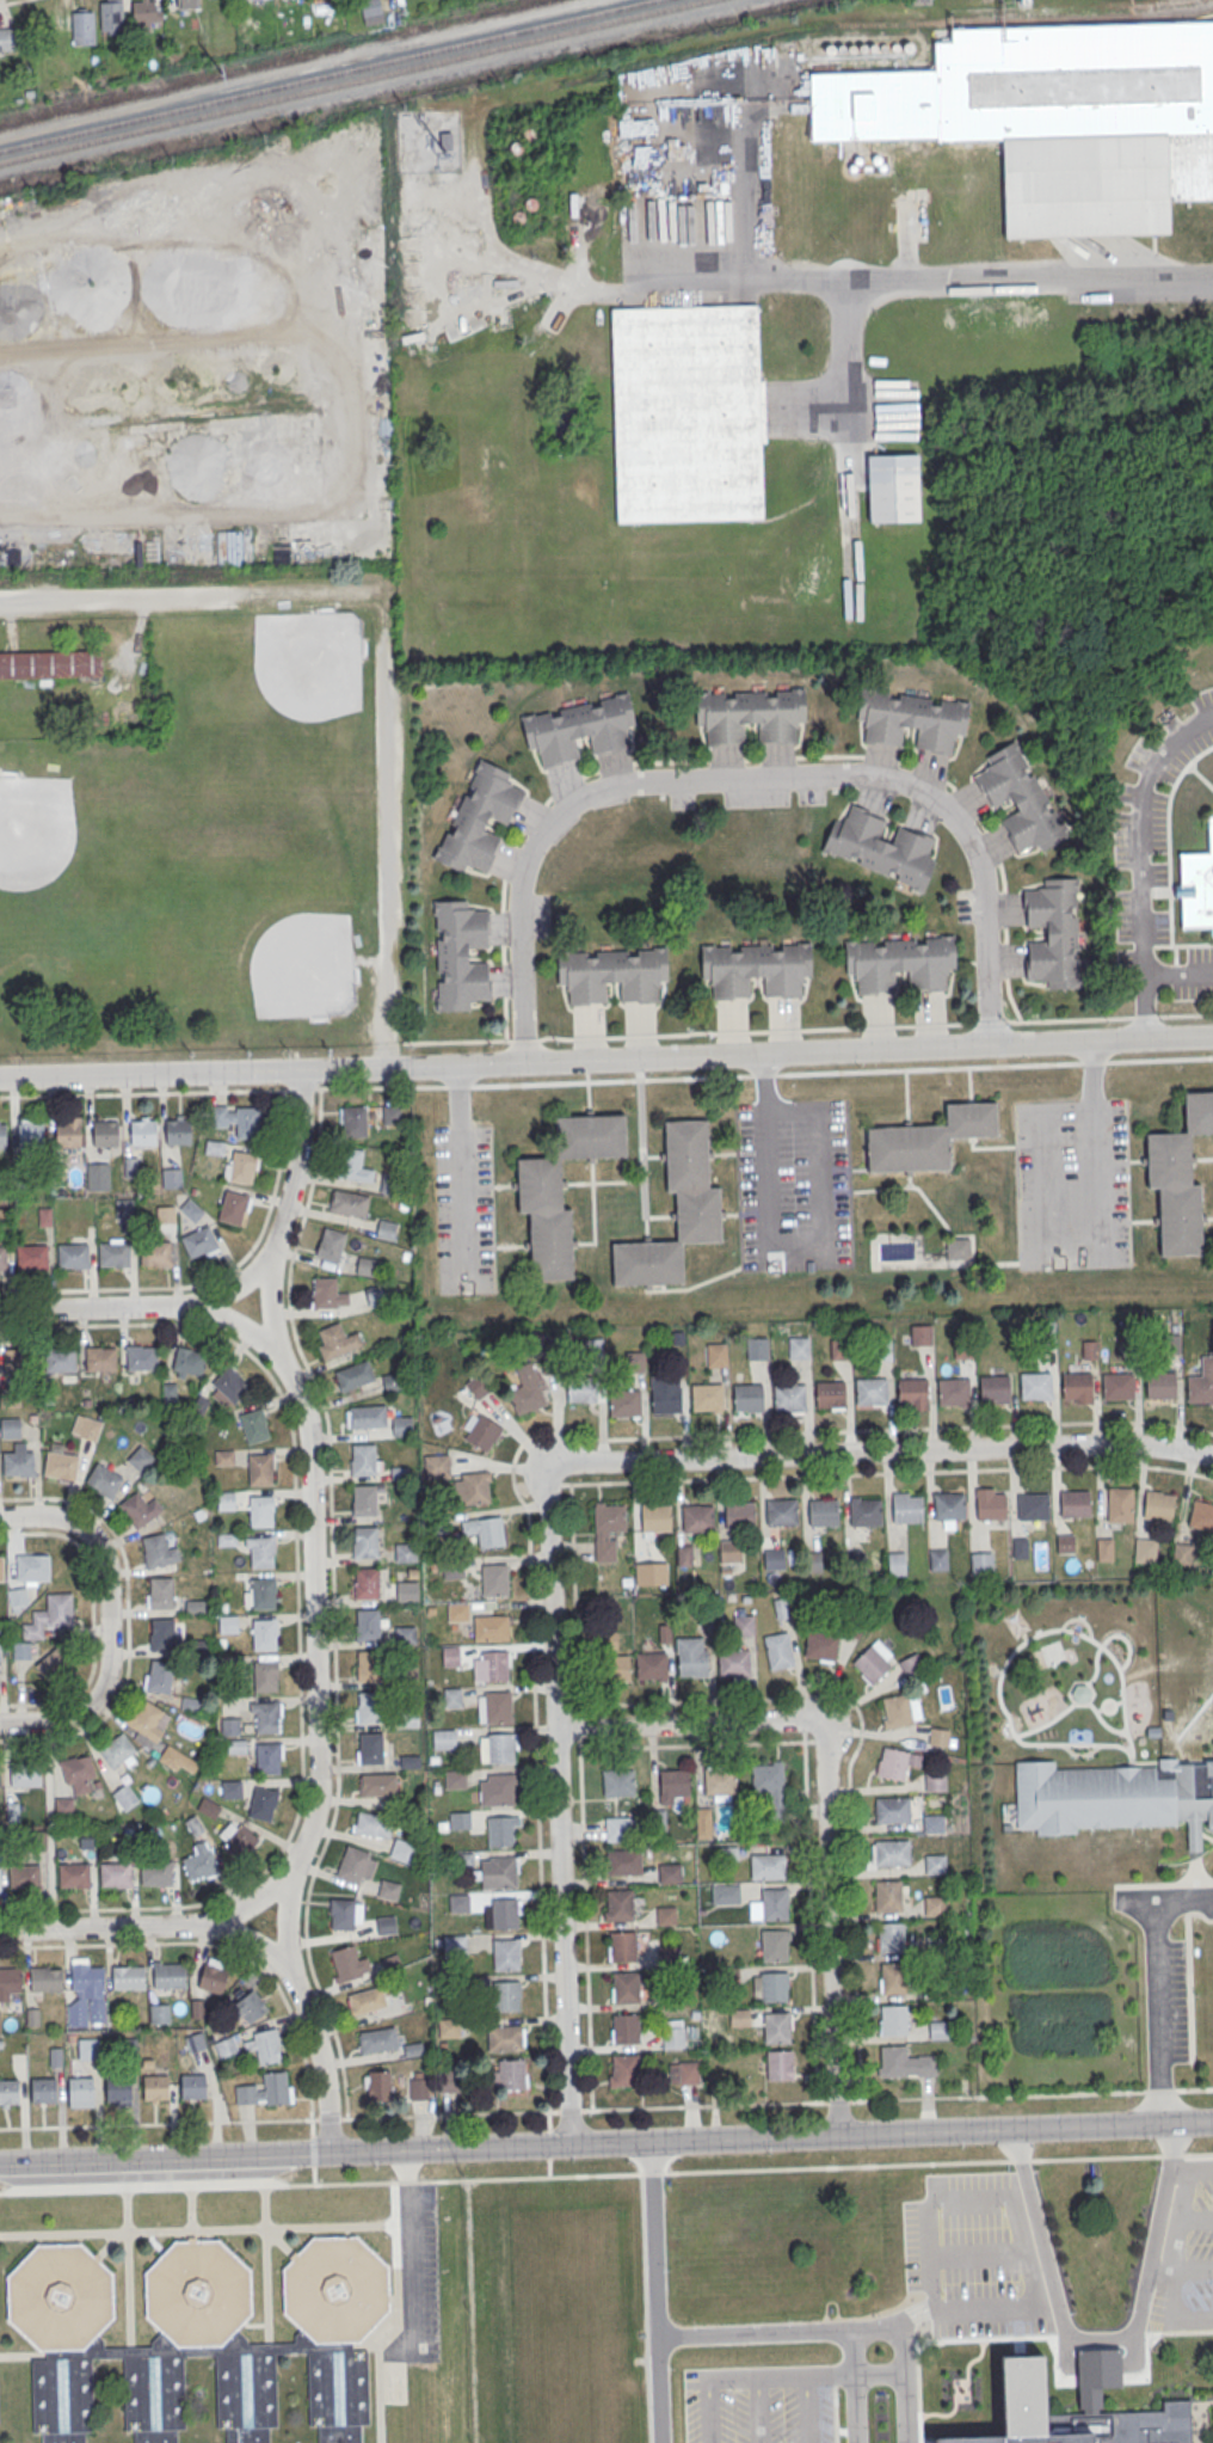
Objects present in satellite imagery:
road: (12, 2)
building: (185, 4)
building: (369, 12)
building: (111, 16)
building: (143, 16)
building: (82, 29)
building: (8, 39)
power tower: (221, 74)
railway: (326, 74)
railway: (357, 82)
building: (1054, 119)
road: (747, 204)
road: (894, 280)
road: (844, 357)
building: (685, 415)
building: (892, 490)
road: (187, 595)
building: (50, 664)
park: (275, 701)
building: (750, 714)
building: (911, 718)
building: (579, 729)
road: (749, 772)
building: (1020, 798)
building: (479, 817)
road: (389, 828)
building: (880, 847)
park: (201, 852)
road: (1141, 857)
park: (63, 861)
building: (1196, 886)
building: (1053, 932)
park: (266, 933)
building: (460, 955)
building: (899, 962)
building: (755, 968)
building: (611, 974)
road: (1178, 978)
road: (606, 1058)
building: (390, 1115)
building: (238, 1118)
building: (352, 1121)
building: (177, 1133)
building: (104, 1134)
building: (142, 1134)
building: (67, 1135)
building: (29, 1136)
building: (2, 1137)
building: (839, 1141)
building: (926, 1141)
building: (214, 1146)
road: (297, 1152)
road: (279, 1159)
road: (316, 1165)
building: (355, 1165)
building: (130, 1166)
building: (240, 1166)
road: (463, 1168)
building: (97, 1176)
building: (171, 1177)
building: (1178, 1178)
building: (388, 1183)
building: (537, 1186)
building: (351, 1202)
building: (233, 1207)
building: (124, 1208)
parking lot: (464, 1210)
building: (168, 1213)
building: (44, 1214)
building: (697, 1219)
building: (386, 1228)
building: (199, 1242)
building: (330, 1244)
building: (958, 1247)
building: (113, 1252)
building: (155, 1253)
building: (72, 1254)
road: (790, 1254)
building: (31, 1256)
building: (2, 1257)
road: (1088, 1257)
building: (365, 1265)
road: (245, 1281)
building: (327, 1293)
road: (271, 1299)
road: (121, 1308)
building: (919, 1334)
building: (335, 1340)
building: (1172, 1344)
building: (757, 1348)
building: (798, 1348)
building: (716, 1354)
building: (141, 1356)
building: (100, 1357)
building: (14, 1358)
building: (59, 1358)
building: (634, 1361)
building: (187, 1362)
building: (353, 1374)
building: (392, 1380)
building: (227, 1386)
building: (476, 1386)
building: (1034, 1387)
building: (1076, 1387)
building: (1116, 1387)
building: (1158, 1387)
building: (167, 1389)
building: (527, 1389)
building: (993, 1389)
building: (1199, 1391)
building: (581, 1392)
building: (870, 1393)
building: (911, 1393)
building: (953, 1393)
building: (829, 1395)
building: (706, 1398)
building: (746, 1399)
building: (788, 1399)
building: (665, 1401)
building: (623, 1404)
building: (365, 1416)
building: (79, 1424)
building: (254, 1425)
building: (401, 1425)
building: (10, 1426)
building: (482, 1432)
road: (527, 1438)
road: (878, 1449)
building: (223, 1456)
building: (140, 1457)
building: (363, 1462)
building: (435, 1462)
building: (18, 1465)
building: (60, 1465)
building: (259, 1471)
road: (891, 1473)
building: (103, 1479)
building: (473, 1487)
building: (224, 1499)
building: (364, 1503)
building: (1119, 1504)
building: (1073, 1505)
building: (1158, 1505)
building: (140, 1509)
building: (948, 1509)
building: (990, 1509)
building: (1033, 1509)
building: (906, 1511)
building: (260, 1512)
building: (781, 1514)
building: (823, 1514)
building: (864, 1515)
building: (1201, 1515)
building: (738, 1516)
building: (654, 1520)
building: (609, 1521)
building: (697, 1521)
building: (485, 1530)
building: (364, 1545)
building: (1104, 1548)
building: (158, 1549)
building: (1145, 1549)
building: (728, 1551)
building: (404, 1552)
building: (260, 1554)
building: (683, 1554)
building: (1182, 1554)
building: (937, 1559)
building: (981, 1561)
building: (774, 1563)
building: (897, 1563)
building: (1, 1566)
building: (32, 1569)
building: (494, 1579)
building: (365, 1585)
building: (161, 1591)
building: (261, 1595)
building: (18, 1596)
building: (195, 1606)
building: (781, 1607)
building: (457, 1610)
road: (314, 1612)
building: (50, 1615)
road: (297, 1616)
road: (128, 1619)
road: (92, 1620)
road: (107, 1620)
building: (227, 1623)
building: (744, 1625)
building: (368, 1627)
building: (491, 1627)
building: (162, 1633)
building: (405, 1633)
building: (264, 1637)
building: (820, 1645)
building: (21, 1650)
building: (778, 1650)
building: (691, 1656)
building: (873, 1661)
building: (51, 1662)
building: (733, 1662)
building: (0, 1663)
building: (494, 1664)
building: (651, 1665)
building: (911, 1665)
building: (368, 1668)
building: (618, 1668)
building: (158, 1676)
building: (265, 1678)
building: (451, 1696)
building: (494, 1706)
building: (369, 1708)
building: (900, 1710)
building: (148, 1719)
building: (265, 1719)
road: (689, 1720)
building: (229, 1725)
building: (938, 1736)
building: (443, 1738)
road: (821, 1741)
road: (695, 1743)
building: (235, 1745)
building: (497, 1747)
building: (117, 1750)
building: (370, 1750)
building: (267, 1760)
building: (410, 1761)
building: (895, 1762)
building: (78, 1772)
building: (25, 1775)
building: (454, 1779)
building: (617, 1781)
building: (935, 1781)
building: (719, 1782)
building: (769, 1782)
building: (376, 1784)
building: (673, 1785)
building: (230, 1788)
building: (497, 1788)
building: (124, 1797)
building: (1115, 1797)
building: (263, 1803)
road: (556, 1803)
building: (63, 1807)
building: (208, 1807)
building: (891, 1809)
building: (458, 1819)
building: (703, 1822)
building: (932, 1822)
building: (371, 1823)
building: (192, 1824)
building: (618, 1828)
building: (501, 1830)
building: (85, 1837)
building: (235, 1839)
building: (400, 1849)
building: (891, 1852)
building: (624, 1860)
building: (199, 1861)
building: (934, 1862)
building: (356, 1865)
building: (766, 1866)
building: (497, 1871)
building: (670, 1872)
building: (155, 1873)
building: (73, 1874)
building: (115, 1874)
building: (24, 1876)
building: (388, 1889)
building: (725, 1892)
building: (886, 1895)
building: (458, 1902)
building: (774, 1903)
building: (618, 1904)
road: (285, 1913)
building: (344, 1913)
building: (501, 1913)
building: (665, 1915)
road: (809, 1921)
road: (584, 1923)
building: (386, 1925)
road: (855, 1925)
road: (129, 1927)
road: (832, 1927)
road: (253, 1935)
building: (886, 1936)
building: (775, 1944)
building: (622, 1945)
road: (222, 1946)
building: (505, 1953)
building: (347, 1962)
road: (1188, 1971)
building: (168, 1974)
building: (213, 1975)
building: (128, 1976)
building: (892, 1977)
building: (45, 1978)
building: (10, 1981)
road: (1157, 1983)
building: (770, 1985)
building: (624, 1987)
building: (86, 1994)
building: (507, 1995)
building: (367, 2000)
building: (250, 2006)
building: (196, 2007)
building: (159, 2013)
building: (739, 2017)
building: (893, 2019)
building: (448, 2027)
building: (624, 2027)
building: (776, 2027)
building: (938, 2030)
building: (673, 2034)
building: (505, 2037)
building: (377, 2039)
building: (264, 2045)
building: (224, 2046)
building: (87, 2048)
building: (413, 2048)
road: (318, 2050)
building: (55, 2056)
building: (903, 2062)
building: (778, 2064)
building: (622, 2070)
building: (683, 2073)
building: (509, 2074)
building: (445, 2080)
building: (377, 2085)
building: (192, 2086)
building: (155, 2087)
building: (117, 2088)
building: (418, 2088)
road: (1194, 2088)
building: (43, 2089)
building: (80, 2089)
building: (266, 2089)
road: (1160, 2089)
building: (8, 2091)
road: (997, 2094)
road: (301, 2097)
road: (836, 2100)
road: (581, 2109)
road: (327, 2117)
road: (156, 2122)
road: (548, 2134)
road: (605, 2140)
road: (313, 2150)
road: (1202, 2169)
road: (1180, 2171)
road: (313, 2174)
road: (606, 2174)
road: (924, 2200)
road: (190, 2214)
road: (1199, 2215)
road: (197, 2228)
road: (345, 2230)
road: (109, 2242)
road: (153, 2242)
road: (279, 2242)
road: (984, 2247)
parking lot: (1199, 2249)
road: (407, 2251)
parking lot: (974, 2254)
road: (264, 2264)
road: (1176, 2264)
road: (1194, 2266)
road: (125, 2269)
parking lot: (425, 2273)
road: (655, 2290)
road: (470, 2310)
road: (394, 2314)
road: (254, 2324)
road: (858, 2330)
building: (199, 2338)
road: (1100, 2338)
road: (23, 2355)
road: (807, 2371)
road: (904, 2382)
road: (389, 2384)
road: (855, 2387)
building: (1022, 2393)
road: (803, 2407)
road: (707, 2408)
road: (759, 2408)
parking lot: (758, 2413)

